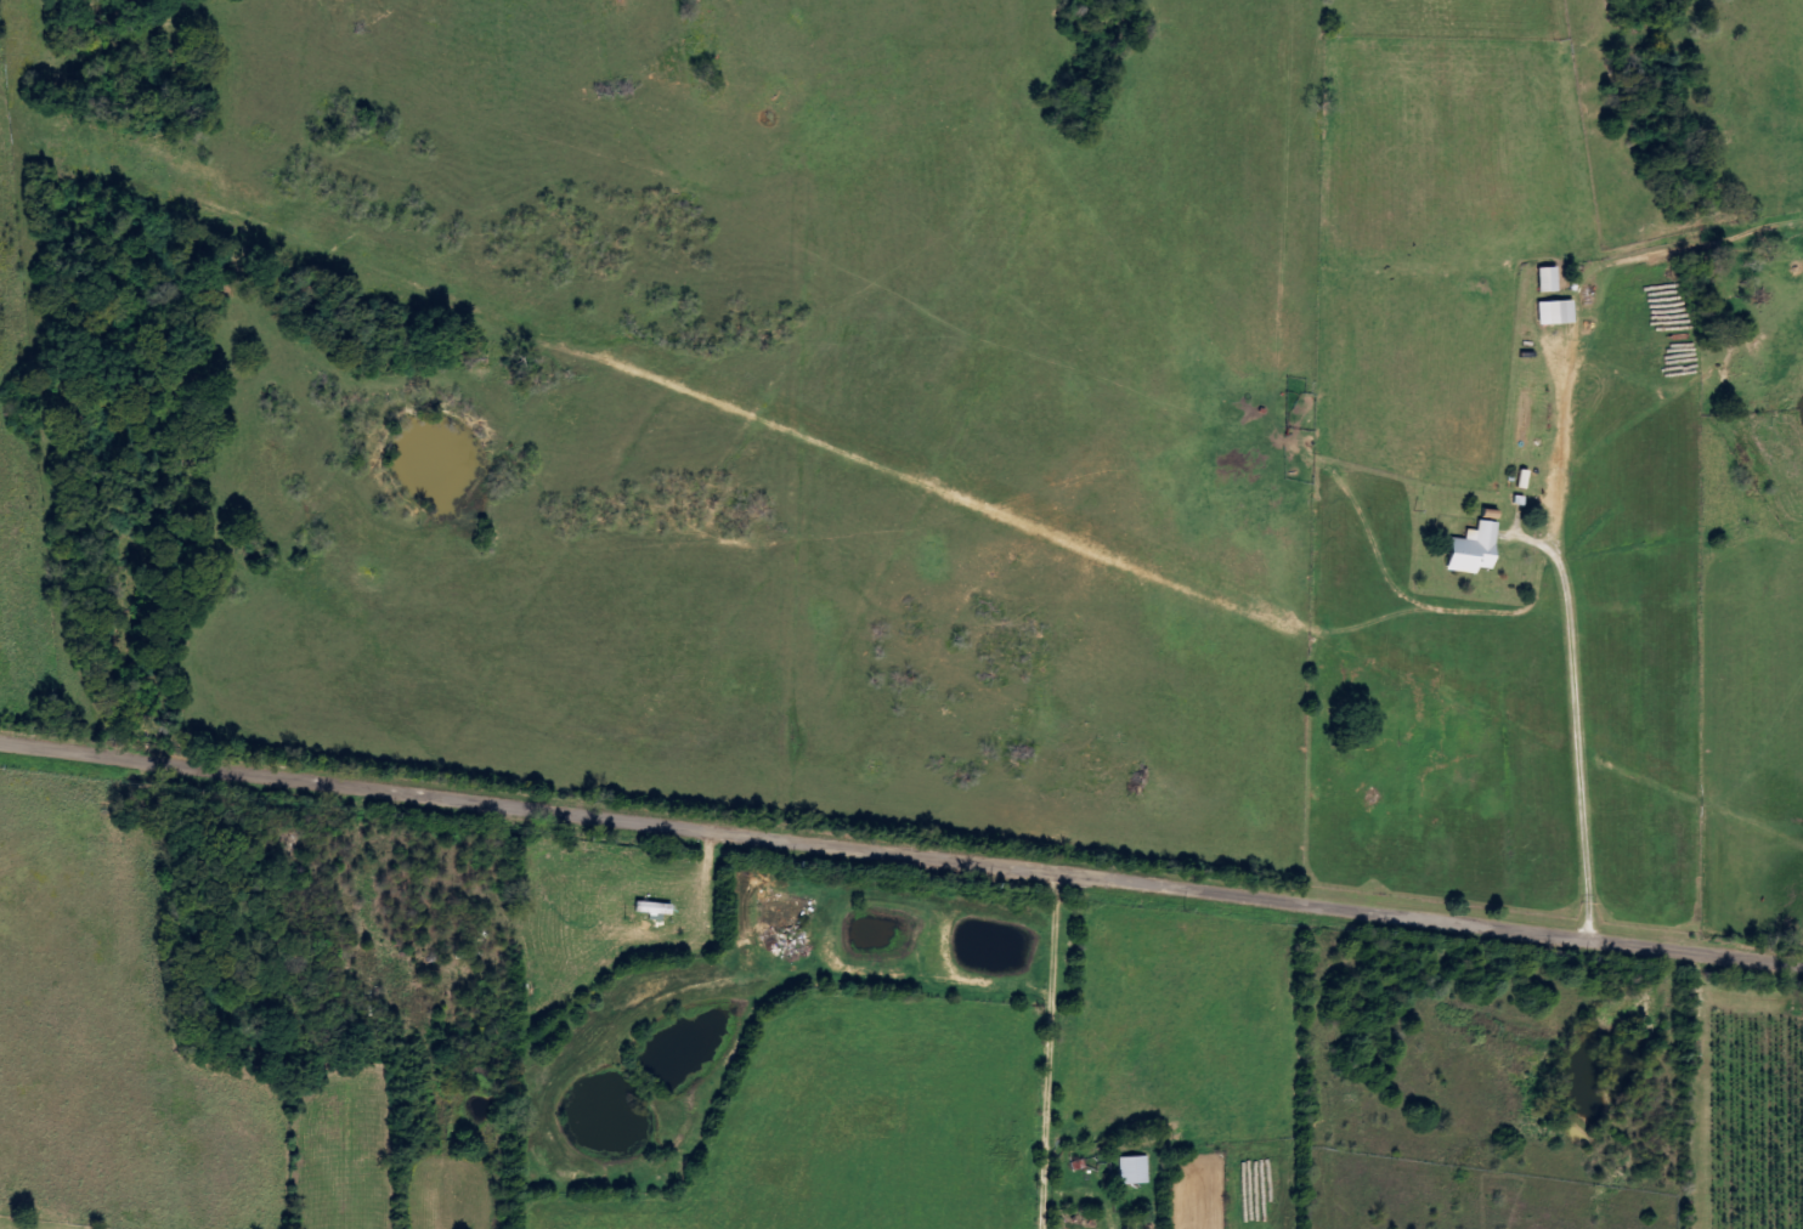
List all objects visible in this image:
building: (1550, 279)
building: (1559, 312)
road: (813, 449)
building: (1476, 549)
road: (1486, 572)
road: (900, 876)
building: (1137, 1171)

